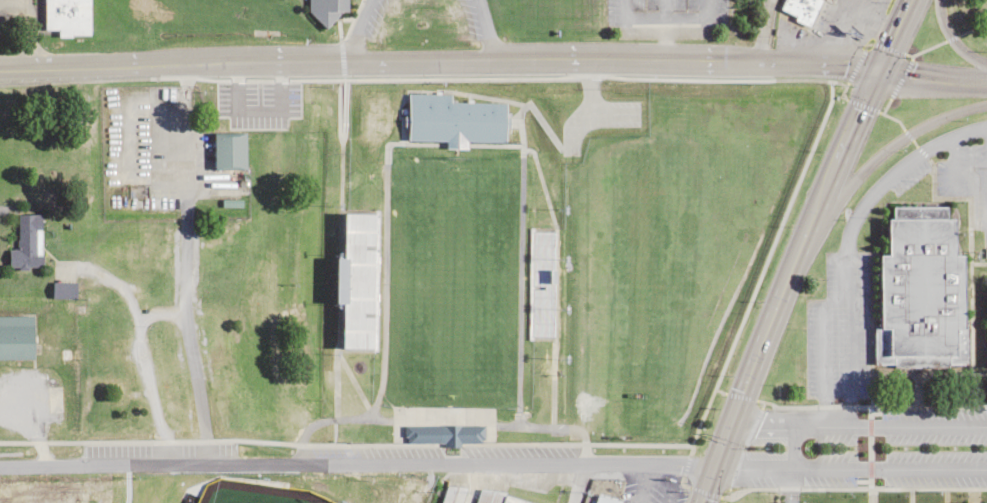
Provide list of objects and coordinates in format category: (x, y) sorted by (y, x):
building: (756, 4)
building: (325, 10)
building: (65, 14)
road: (952, 39)
road: (494, 61)
building: (374, 111)
building: (465, 122)
building: (227, 148)
road: (875, 155)
road: (845, 236)
building: (355, 240)
building: (25, 242)
road: (798, 248)
building: (541, 282)
building: (920, 286)
building: (61, 289)
building: (15, 336)
road: (931, 404)
road: (858, 423)
building: (443, 433)
road: (791, 462)
road: (356, 467)
road: (849, 468)
road: (907, 490)
building: (496, 497)
building: (597, 498)
building: (454, 501)
building: (974, 502)

